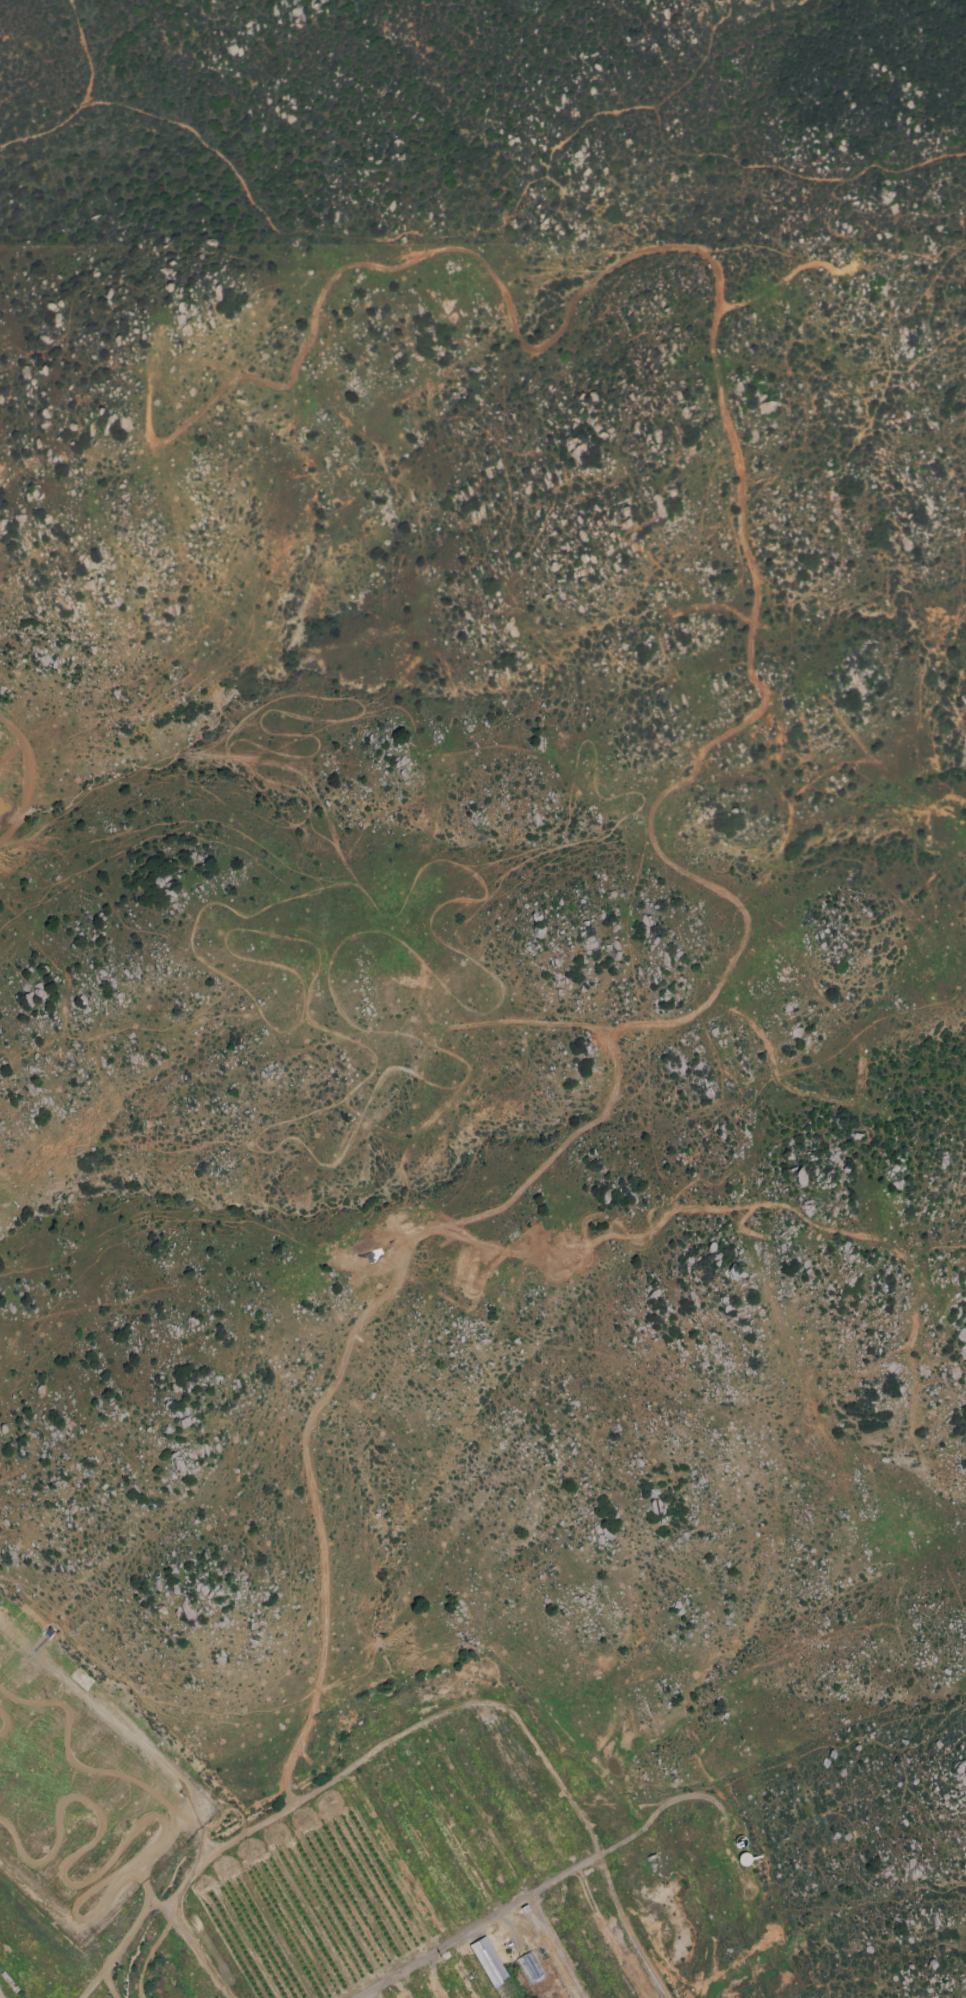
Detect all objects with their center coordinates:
road: (492, 1917)
road: (129, 1937)
road: (196, 1948)
road: (401, 1987)

